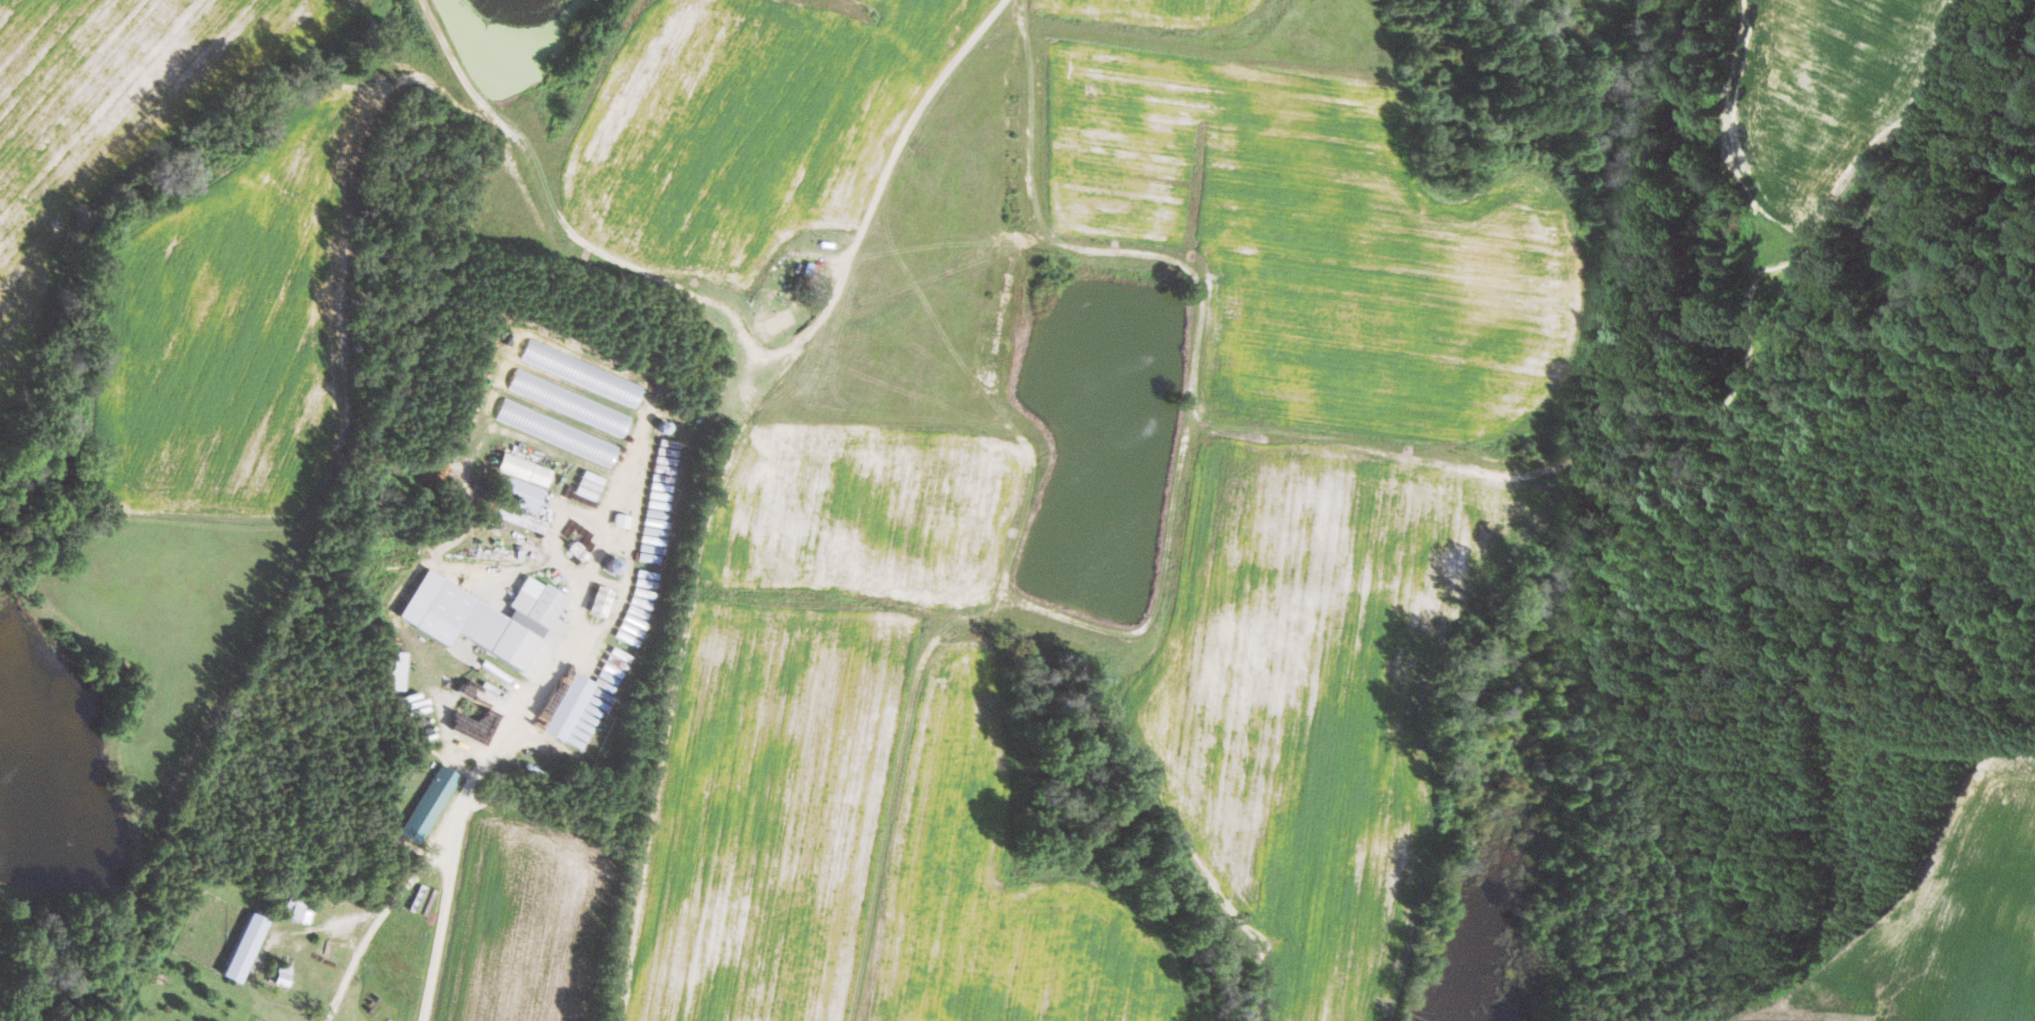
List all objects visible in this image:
road: (884, 172)
building: (583, 373)
building: (524, 482)
road: (635, 490)
building: (520, 518)
building: (622, 521)
road: (558, 535)
road: (614, 548)
road: (526, 568)
road: (606, 582)
building: (602, 602)
building: (484, 618)
building: (395, 671)
building: (569, 707)
building: (430, 802)
road: (452, 828)
building: (297, 909)
road: (439, 938)
building: (245, 946)

